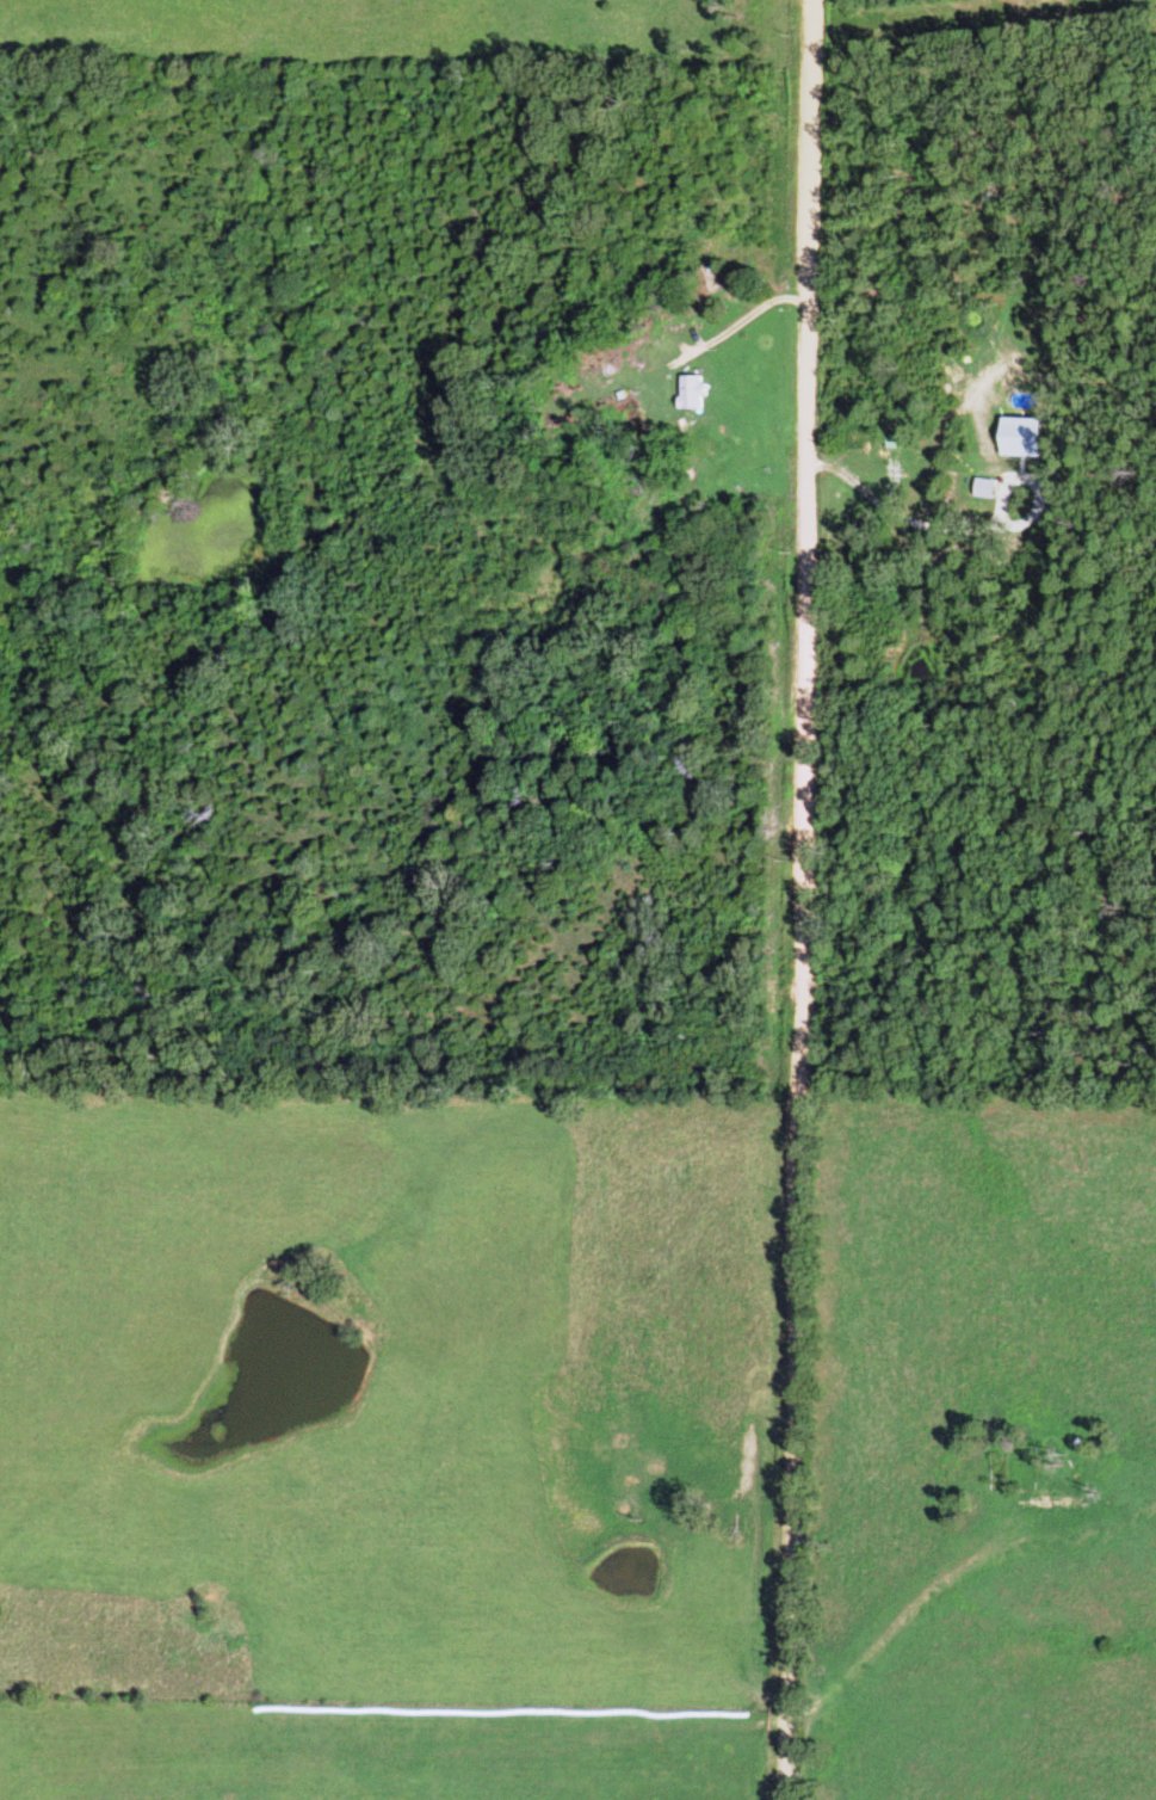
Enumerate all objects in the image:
building: (701, 390)
building: (1028, 437)
building: (990, 488)
road: (797, 899)

